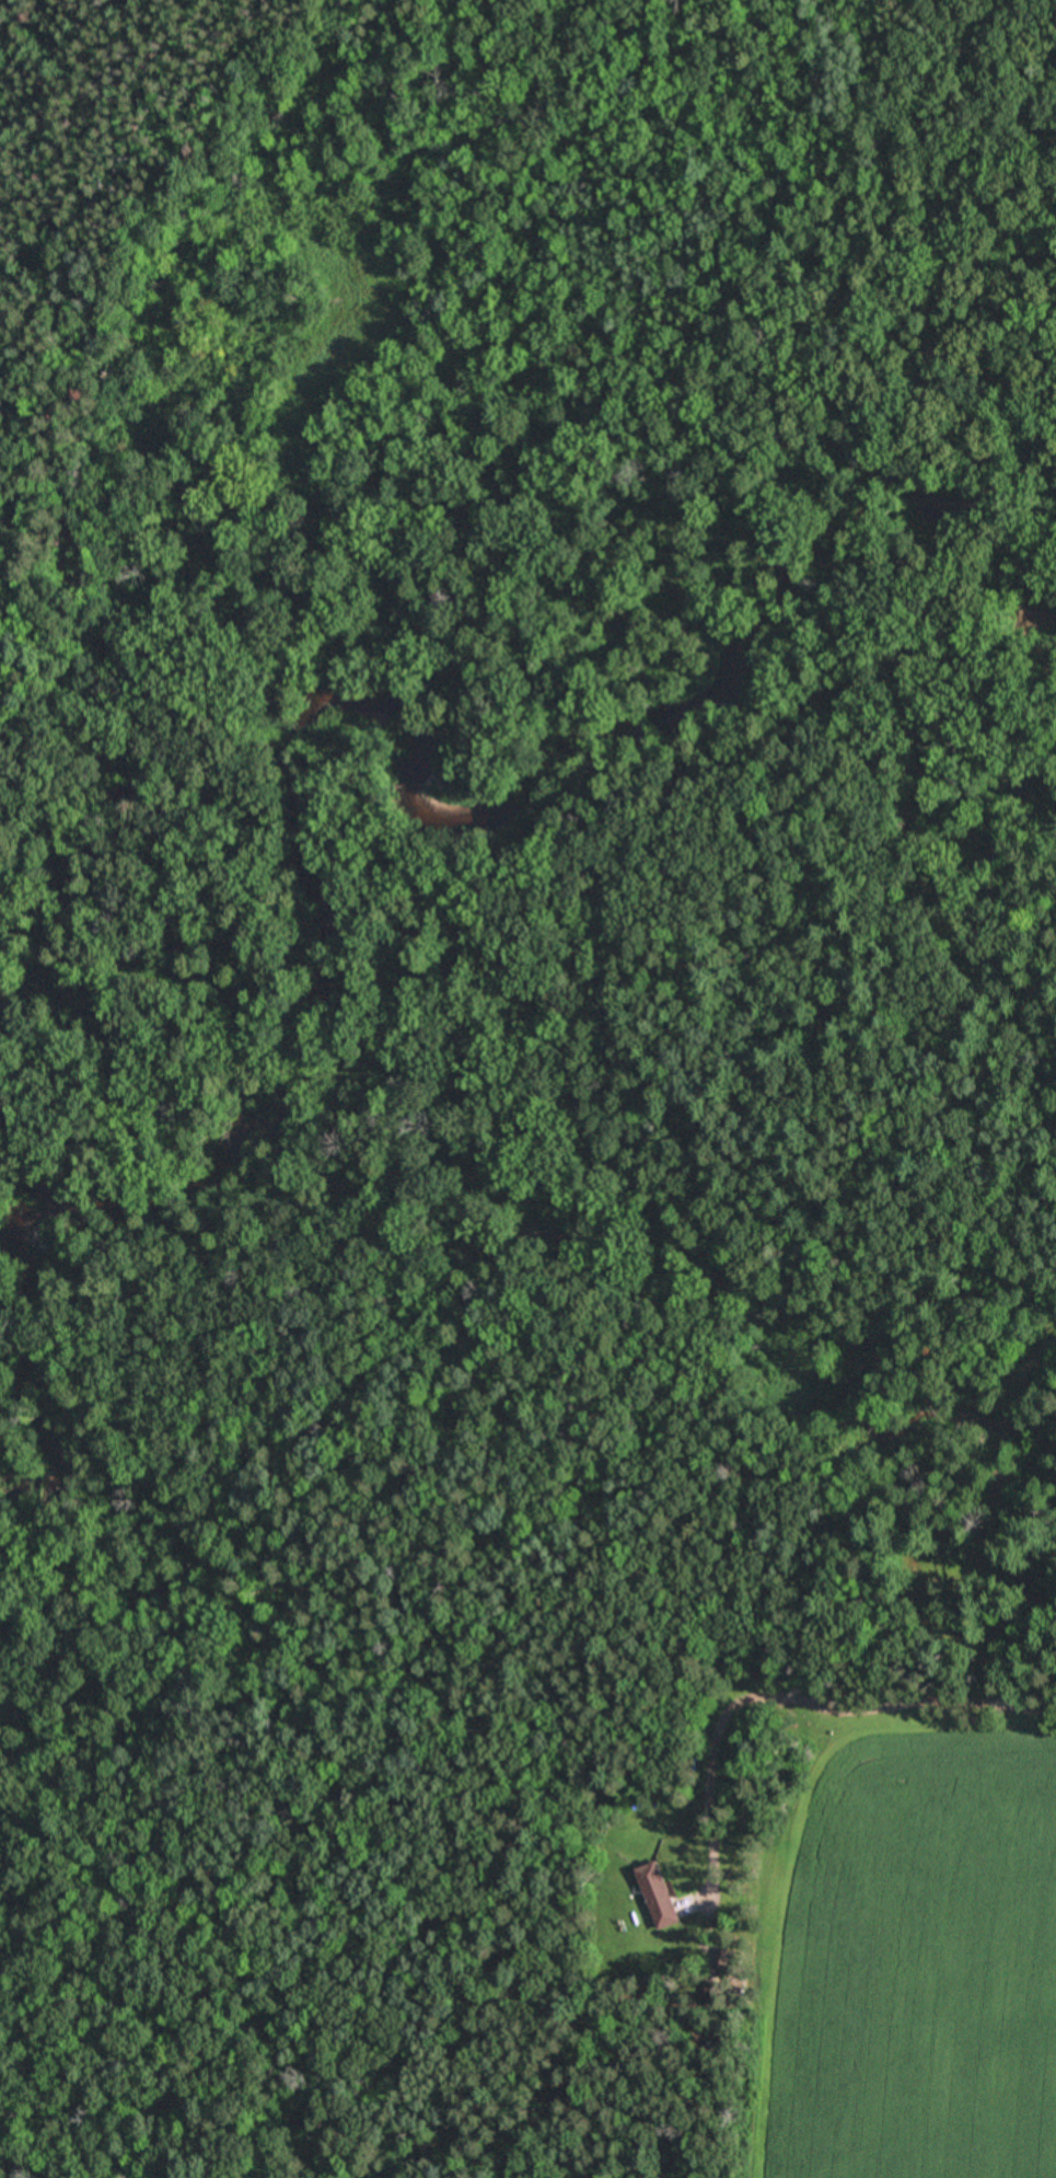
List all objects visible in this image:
road: (924, 1690)
road: (713, 1759)
building: (657, 1894)

